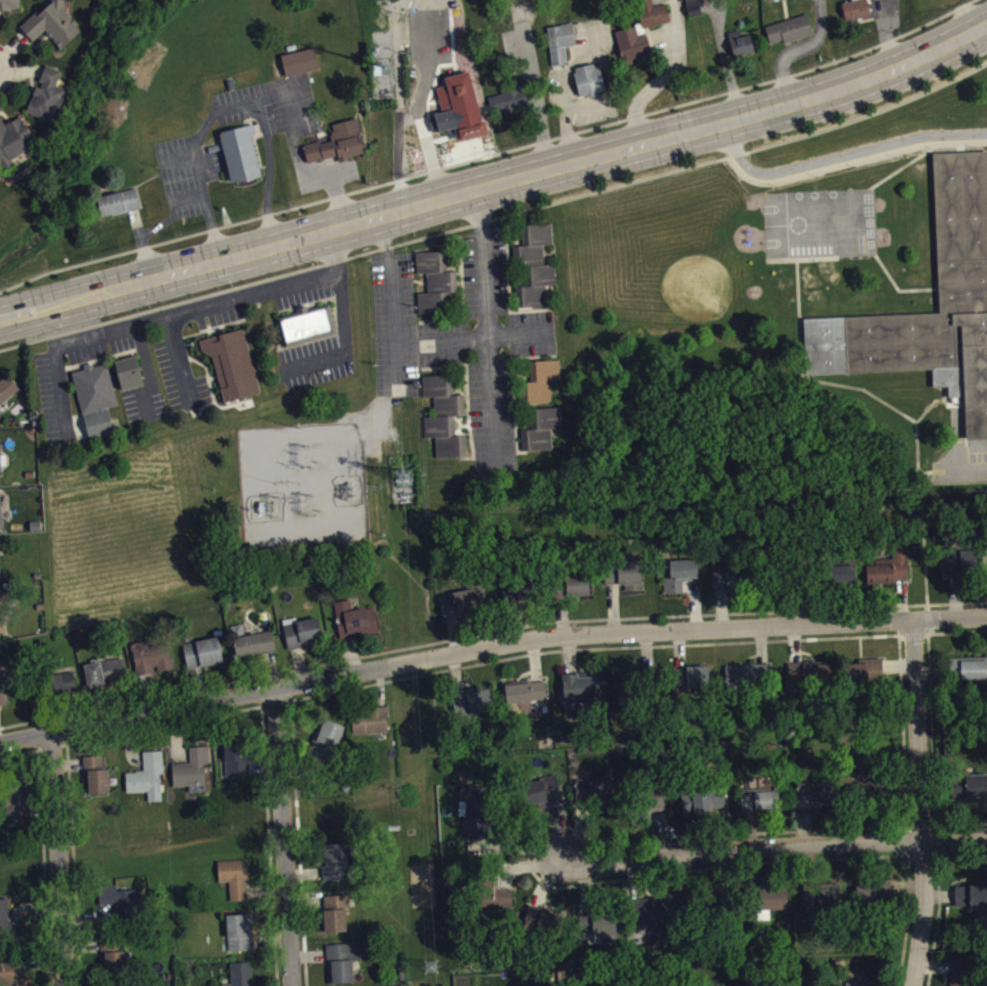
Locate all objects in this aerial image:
building: (912, 0)
building: (882, 1)
building: (8, 4)
building: (692, 6)
building: (854, 8)
building: (652, 12)
building: (51, 22)
building: (789, 28)
building: (559, 40)
building: (739, 41)
building: (631, 43)
building: (299, 60)
building: (588, 78)
building: (47, 94)
building: (507, 97)
road: (565, 105)
building: (435, 120)
building: (13, 138)
building: (336, 142)
building: (239, 151)
road: (489, 154)
road: (841, 155)
road: (900, 167)
road: (498, 185)
building: (118, 201)
road: (497, 217)
building: (533, 264)
park: (678, 265)
building: (433, 281)
road: (897, 288)
building: (962, 299)
road: (391, 306)
road: (798, 318)
building: (306, 324)
road: (473, 337)
parking lot: (460, 340)
parking lot: (330, 344)
road: (490, 353)
building: (231, 362)
building: (127, 370)
road: (434, 370)
building: (539, 379)
building: (6, 387)
parking lot: (53, 387)
road: (514, 388)
road: (466, 394)
building: (94, 396)
road: (932, 401)
building: (443, 414)
road: (460, 416)
road: (458, 423)
road: (464, 423)
building: (539, 427)
building: (2, 458)
road: (918, 461)
road: (967, 469)
power tower: (406, 477)
power substation: (304, 487)
building: (0, 521)
building: (0, 566)
building: (963, 567)
building: (892, 573)
building: (627, 581)
building: (682, 581)
building: (728, 583)
building: (576, 592)
building: (522, 597)
building: (461, 610)
building: (1, 611)
road: (959, 623)
building: (357, 625)
building: (304, 639)
building: (256, 650)
road: (462, 652)
building: (205, 659)
building: (154, 664)
building: (967, 675)
building: (107, 678)
building: (865, 678)
building: (811, 681)
building: (749, 683)
building: (695, 685)
building: (65, 688)
building: (4, 690)
building: (625, 692)
building: (583, 693)
building: (528, 699)
building: (476, 708)
building: (372, 726)
building: (329, 743)
building: (239, 763)
building: (194, 775)
building: (98, 782)
building: (149, 783)
building: (971, 793)
building: (872, 796)
building: (546, 798)
building: (595, 798)
building: (817, 801)
building: (655, 806)
road: (921, 806)
building: (760, 807)
building: (706, 808)
building: (20, 809)
building: (477, 815)
road: (279, 837)
road: (775, 853)
road: (55, 859)
building: (338, 868)
building: (237, 884)
building: (496, 899)
building: (875, 899)
building: (972, 902)
building: (820, 903)
building: (774, 904)
building: (121, 905)
building: (657, 918)
building: (337, 920)
building: (543, 927)
building: (10, 929)
building: (242, 939)
building: (111, 949)
building: (118, 967)
building: (343, 967)
power tower: (432, 967)
building: (963, 975)
building: (243, 977)
building: (9, 978)

